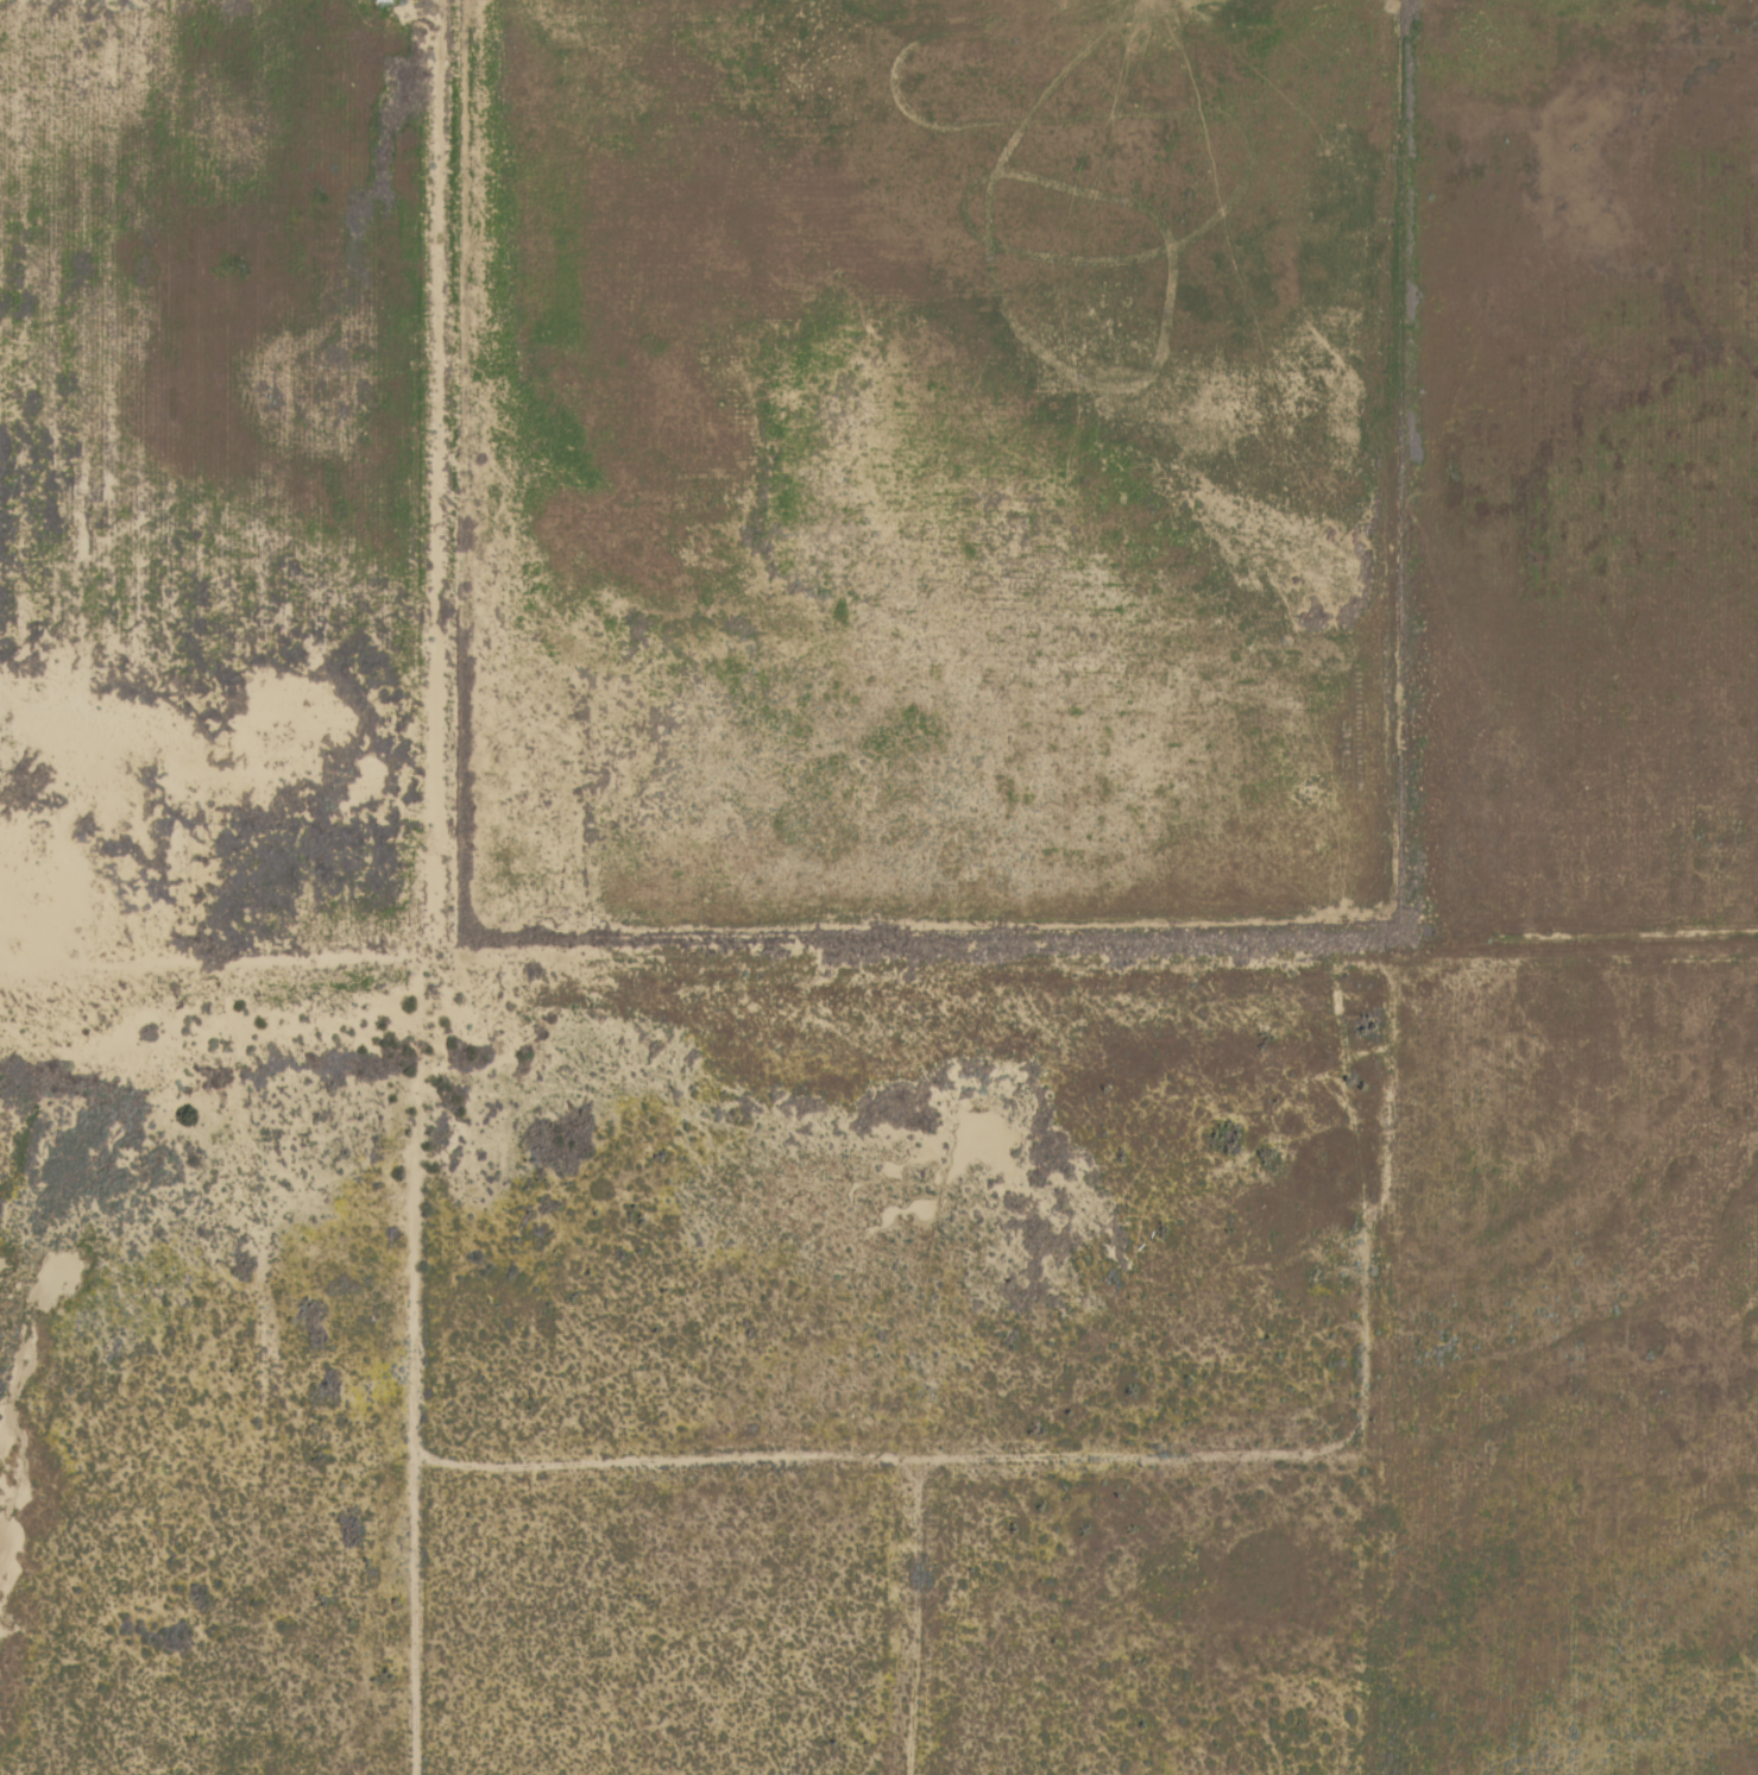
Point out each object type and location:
road: (428, 886)
road: (1088, 986)
road: (987, 1481)
road: (916, 1629)

